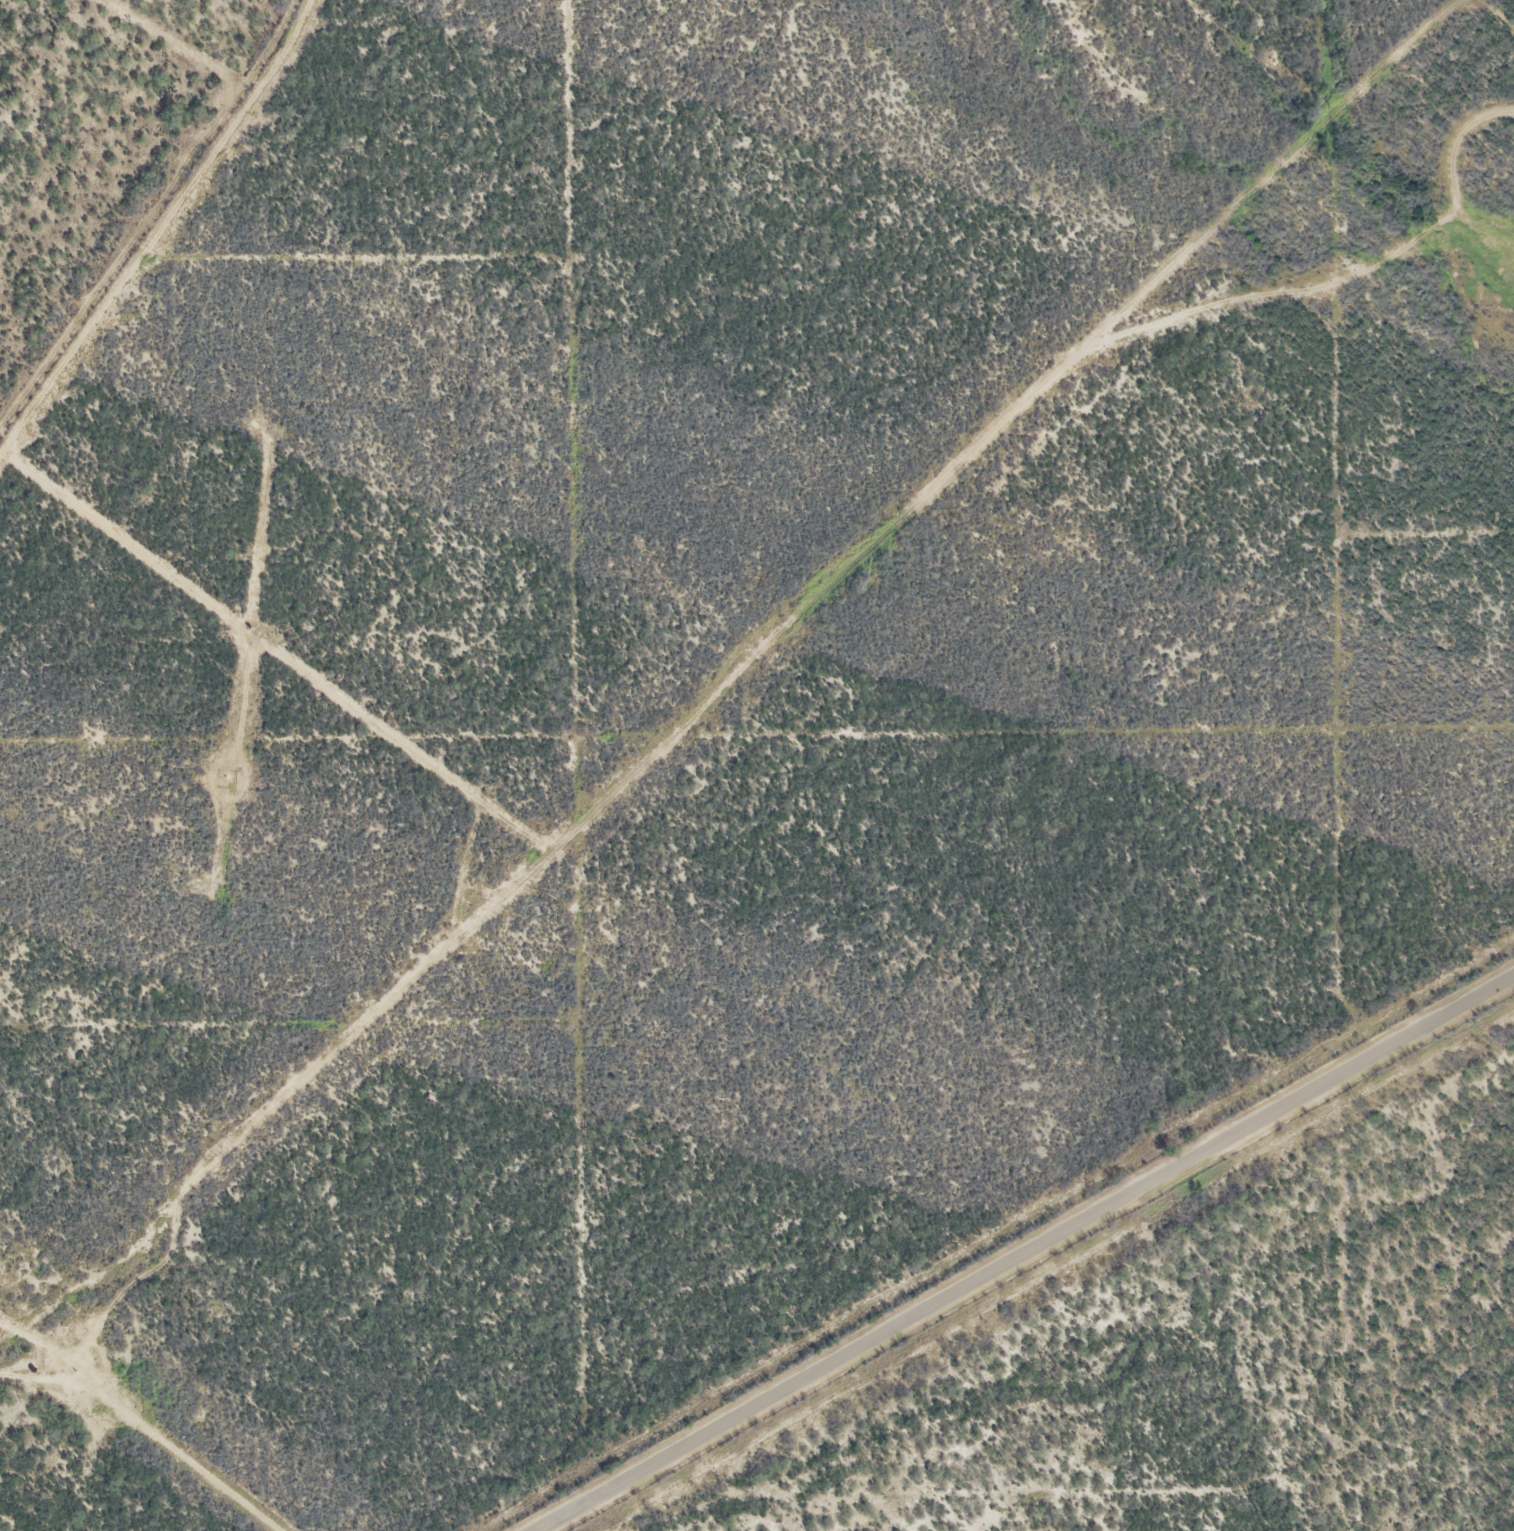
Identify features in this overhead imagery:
road: (1027, 1255)

